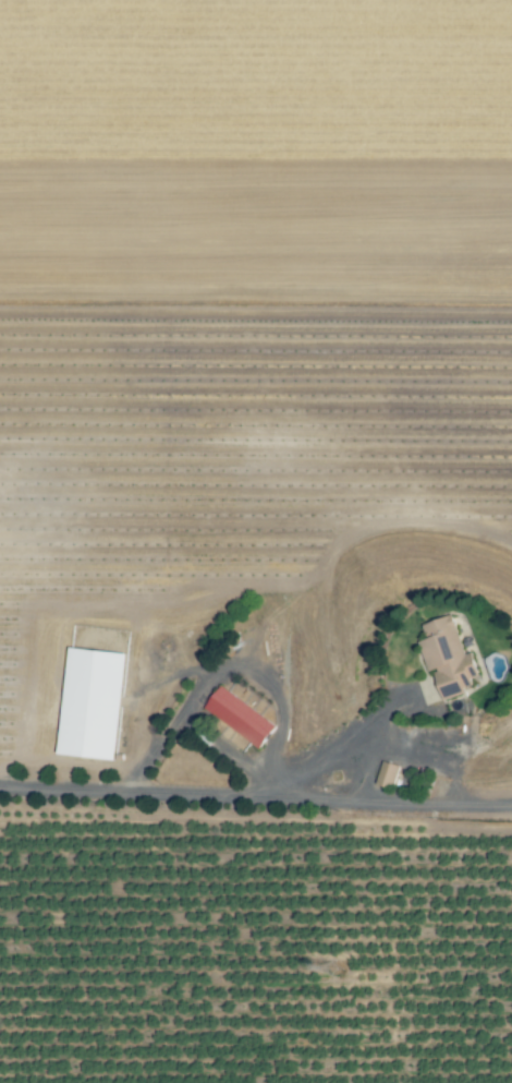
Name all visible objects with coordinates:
building: (448, 659)
building: (93, 706)
building: (240, 719)
road: (345, 737)
building: (387, 778)
road: (256, 789)
power tower: (334, 972)

